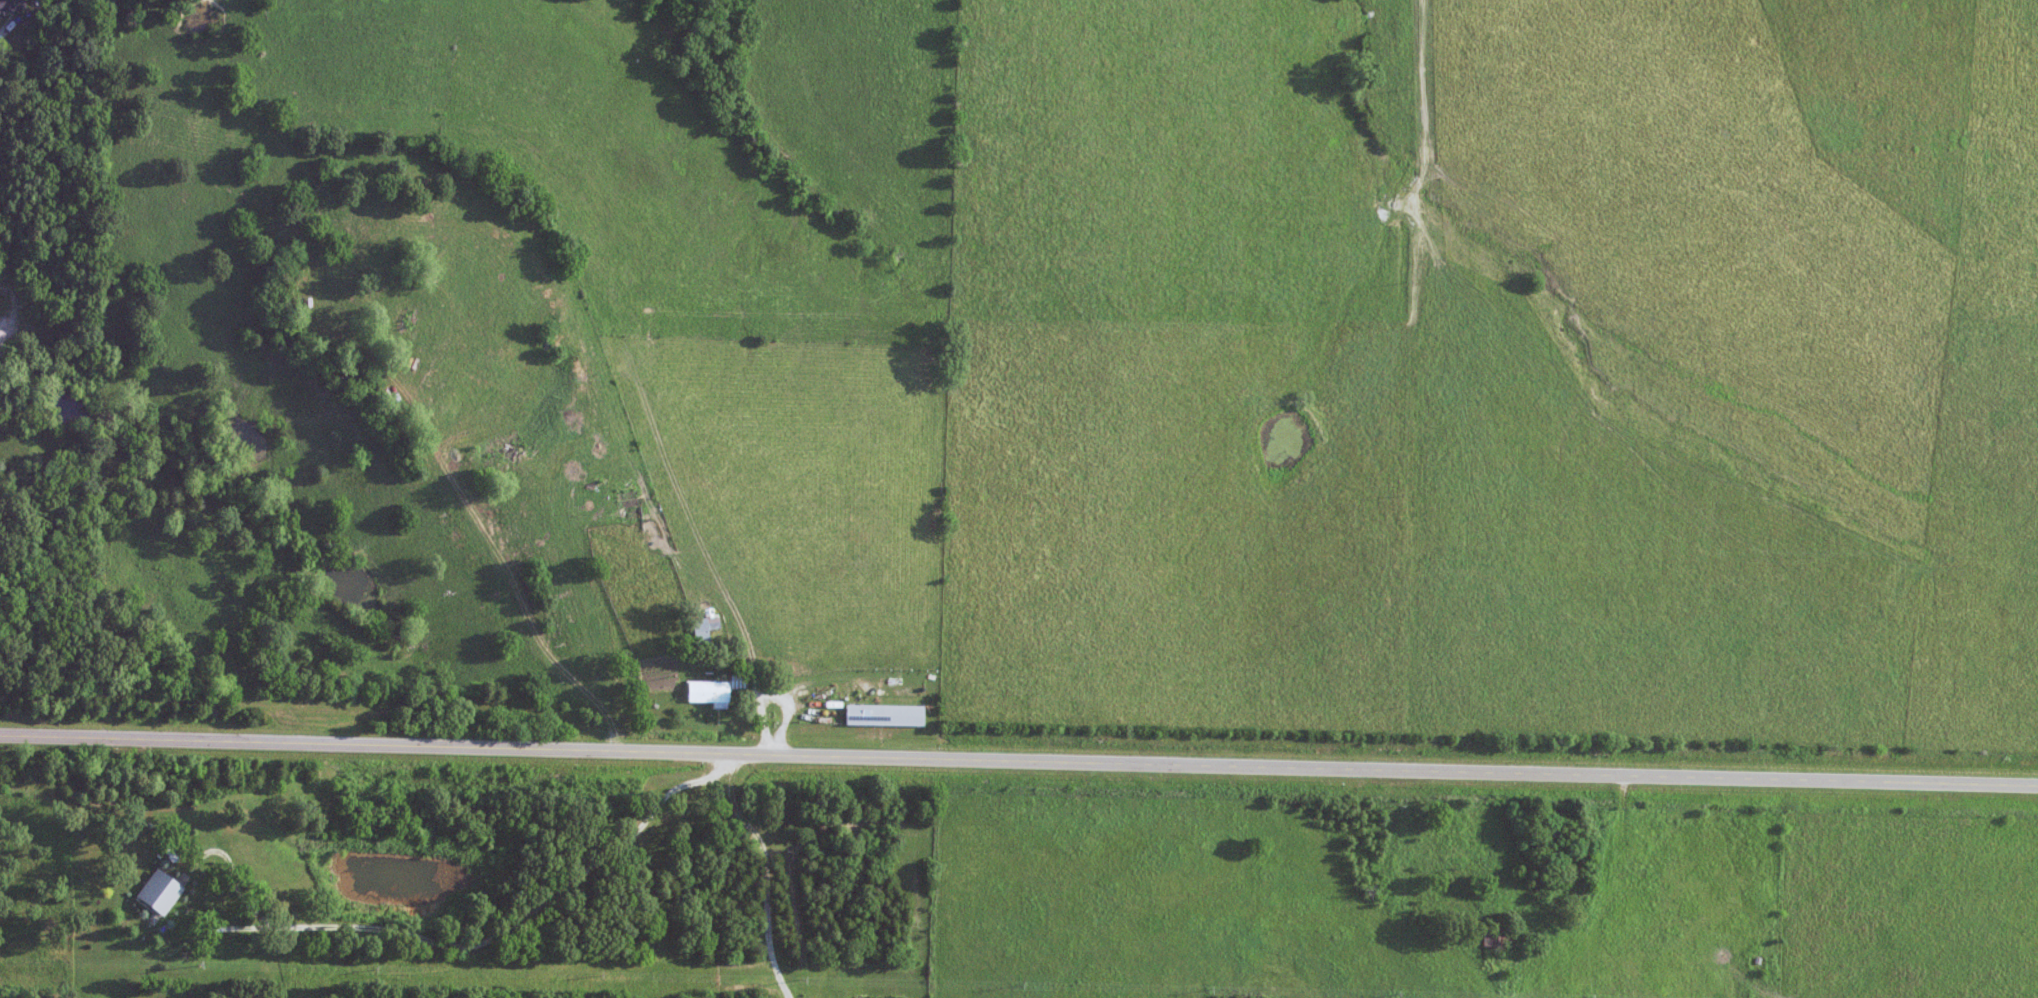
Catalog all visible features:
building: (11, 5)
building: (631, 503)
building: (707, 625)
building: (712, 693)
building: (887, 715)
road: (1019, 762)
building: (1555, 834)
building: (162, 892)
building: (1499, 937)

